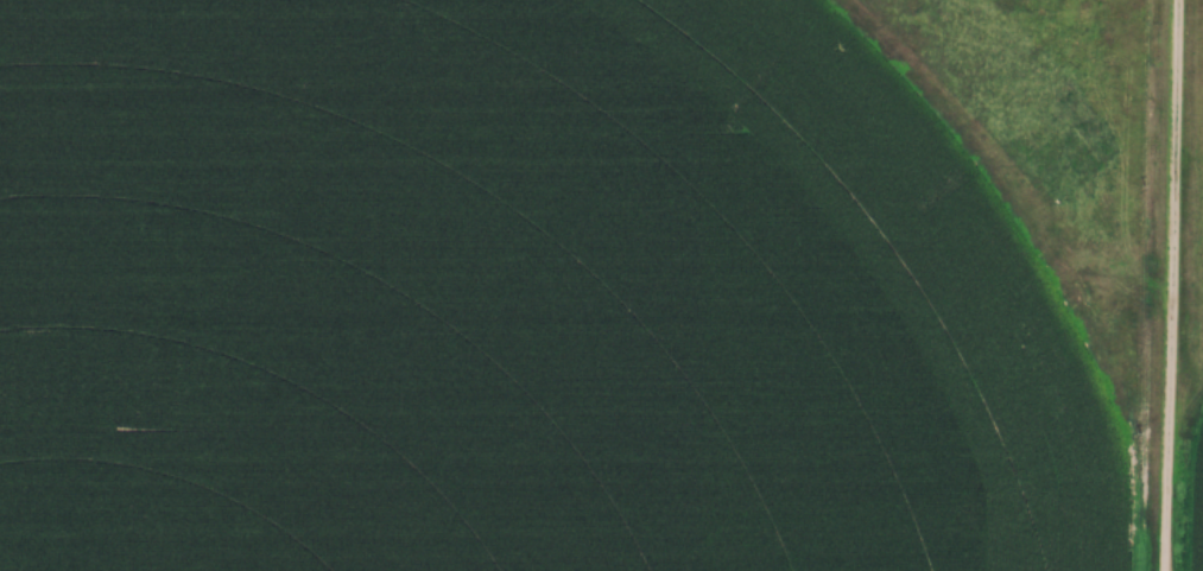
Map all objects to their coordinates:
road: (1173, 285)

